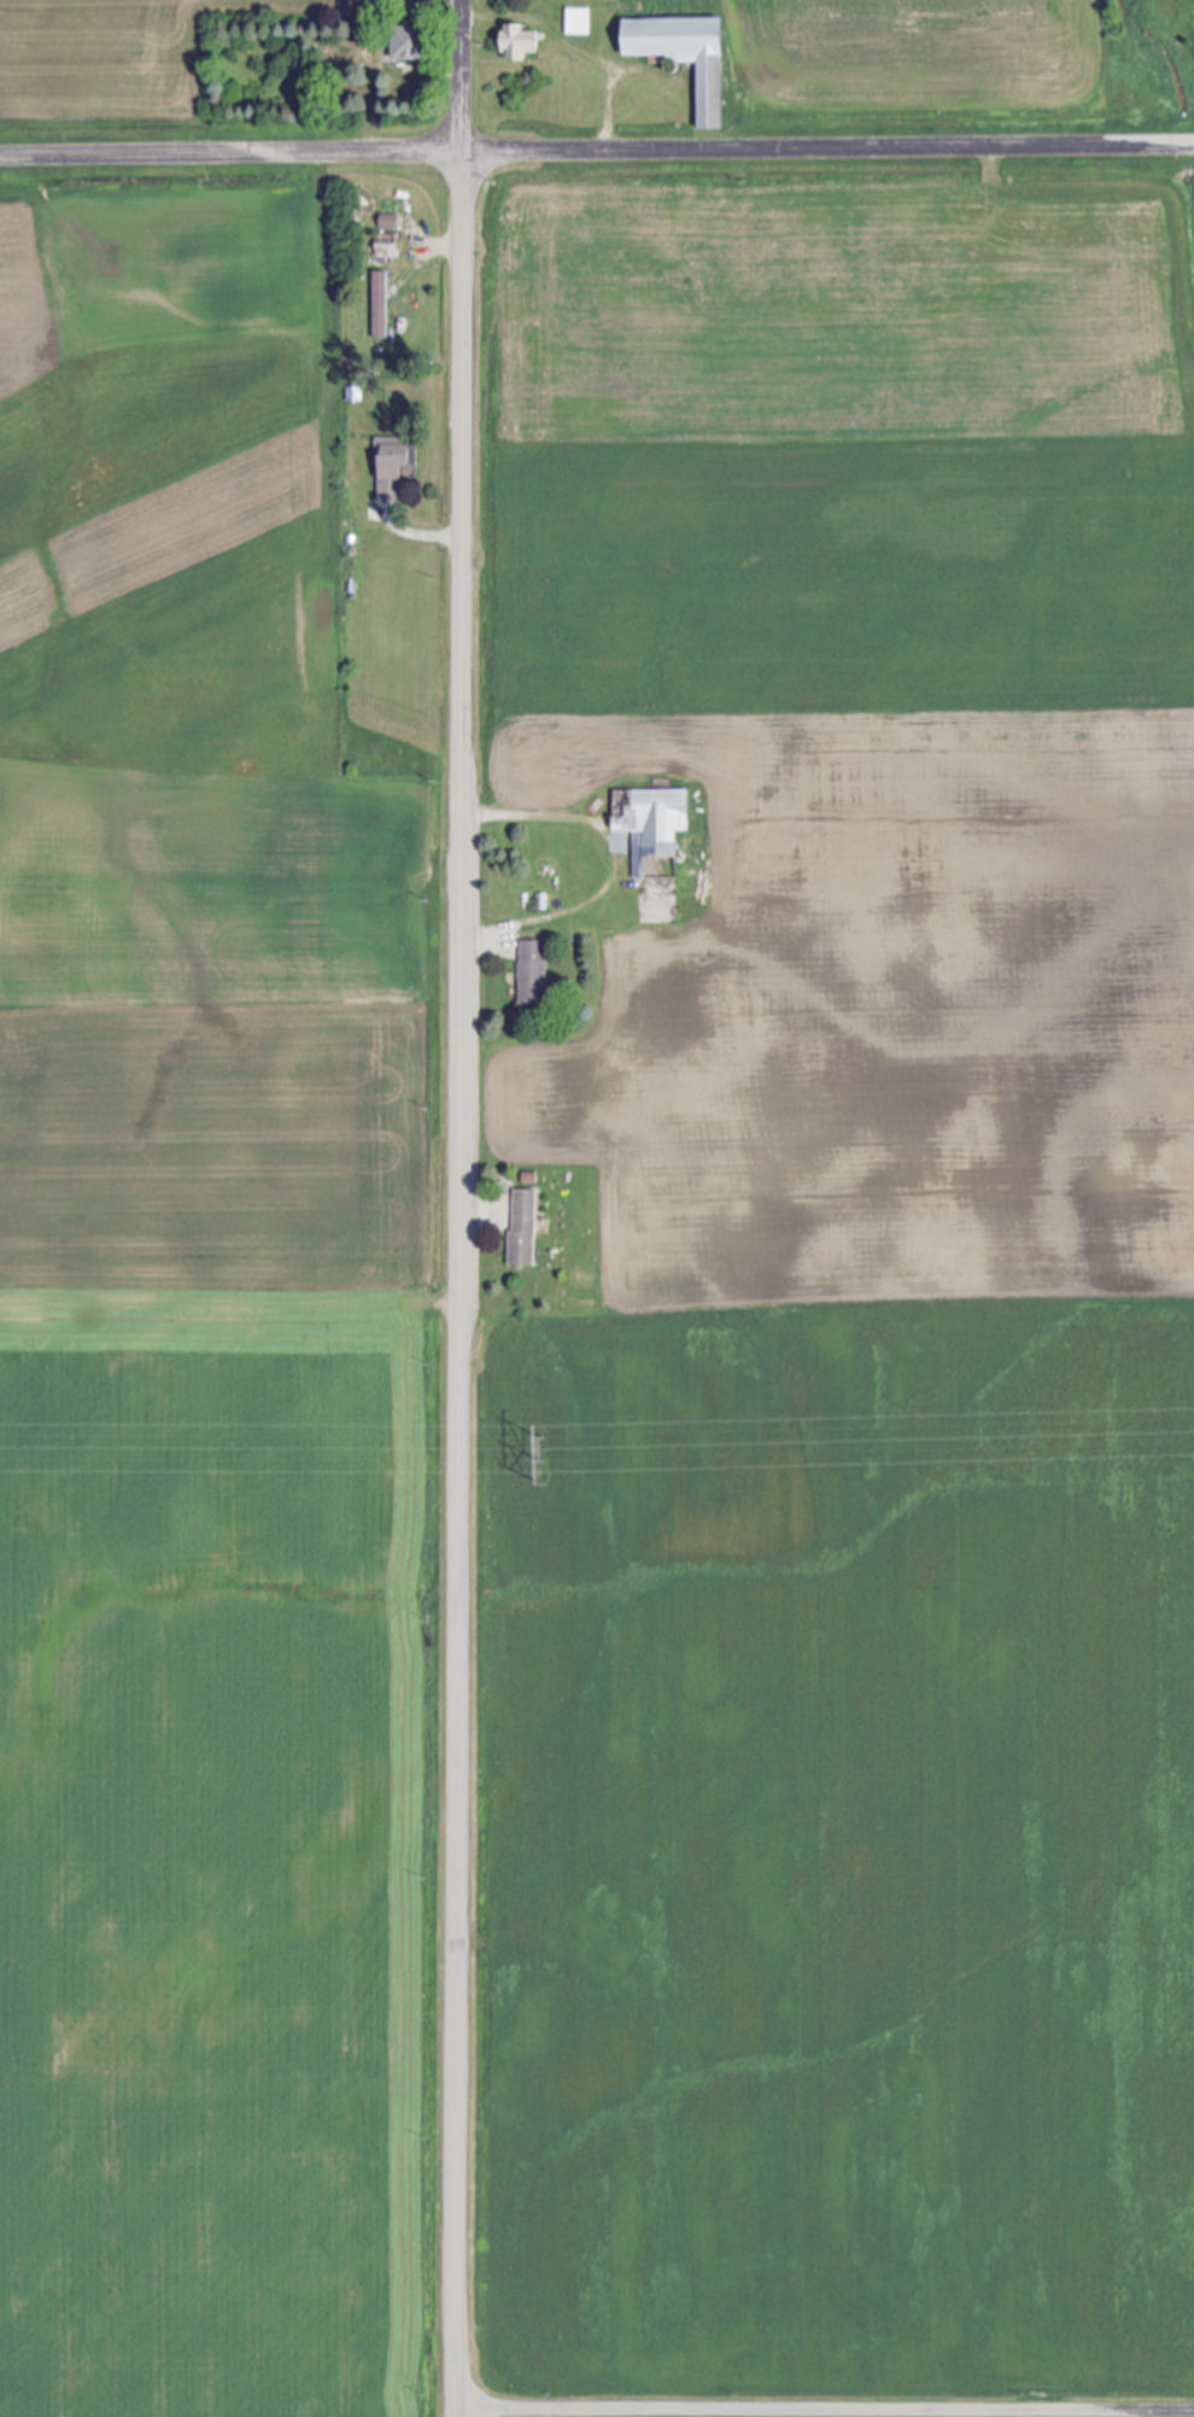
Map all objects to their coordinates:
building: (574, 21)
building: (398, 41)
building: (515, 41)
building: (679, 54)
road: (597, 150)
building: (386, 221)
building: (376, 304)
building: (387, 467)
road: (618, 864)
building: (528, 971)
road: (461, 1208)
building: (519, 1227)
power tower: (550, 1456)
road: (825, 2407)

